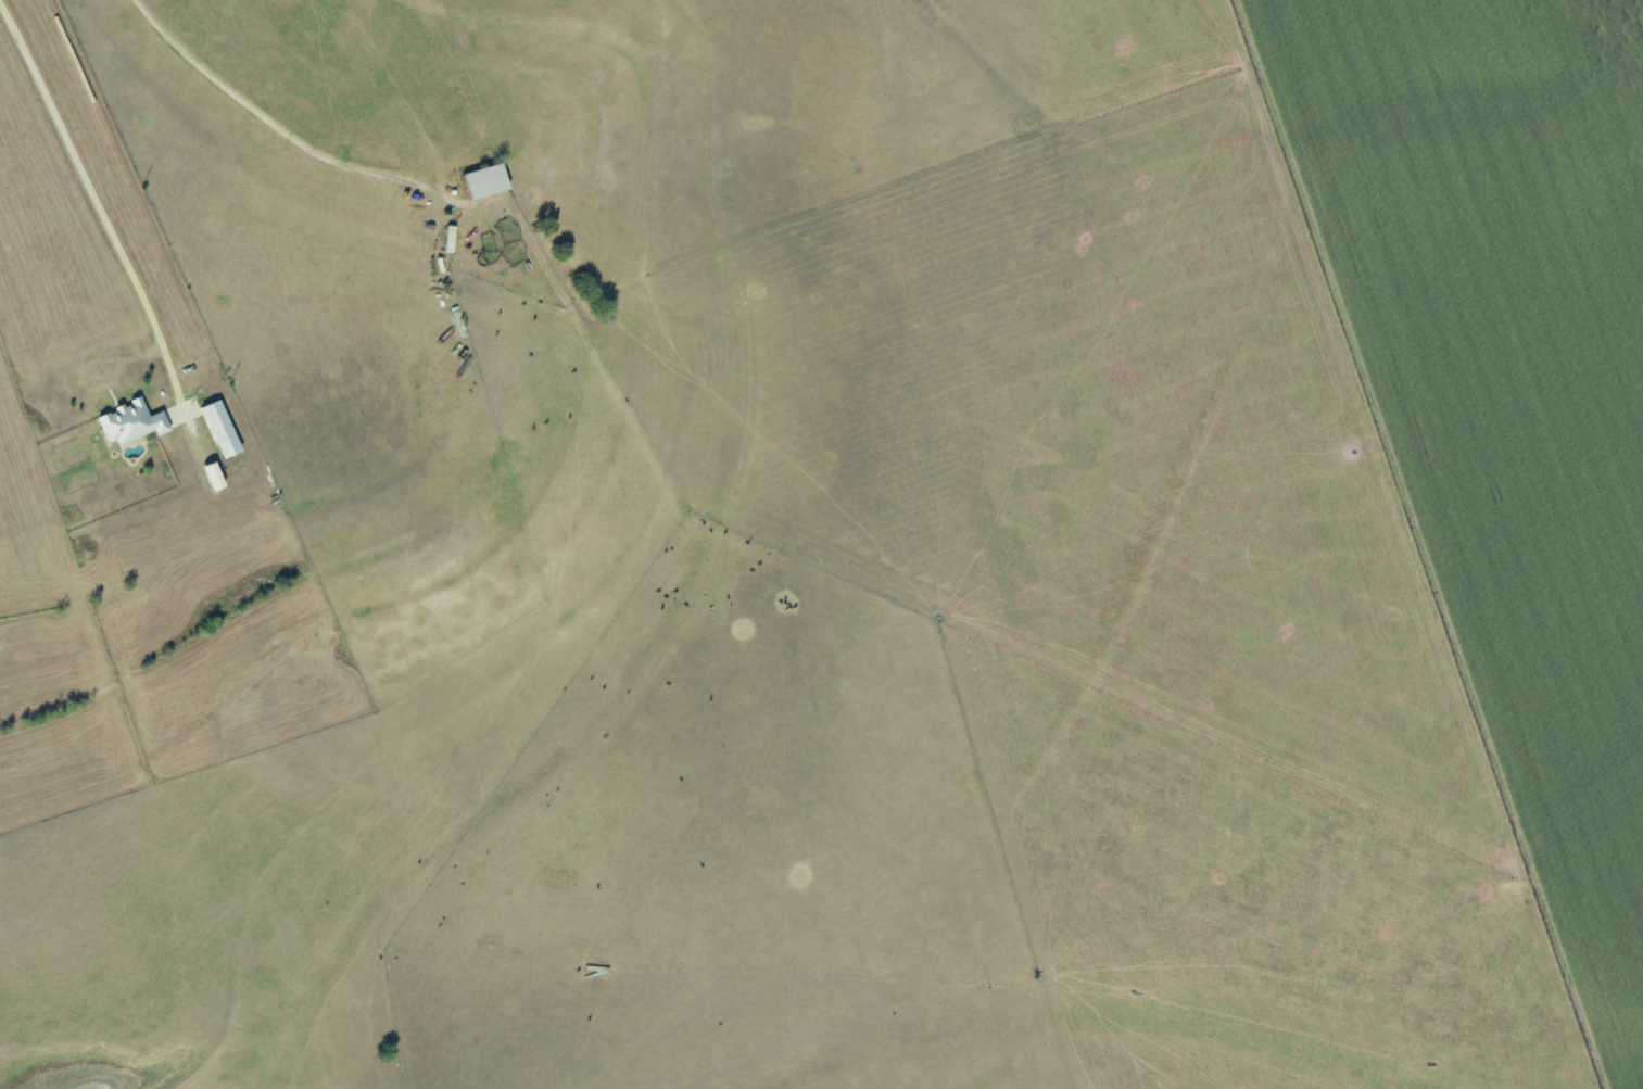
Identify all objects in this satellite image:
road: (302, 127)
building: (486, 181)
road: (89, 188)
building: (132, 422)
building: (222, 429)
building: (214, 477)

